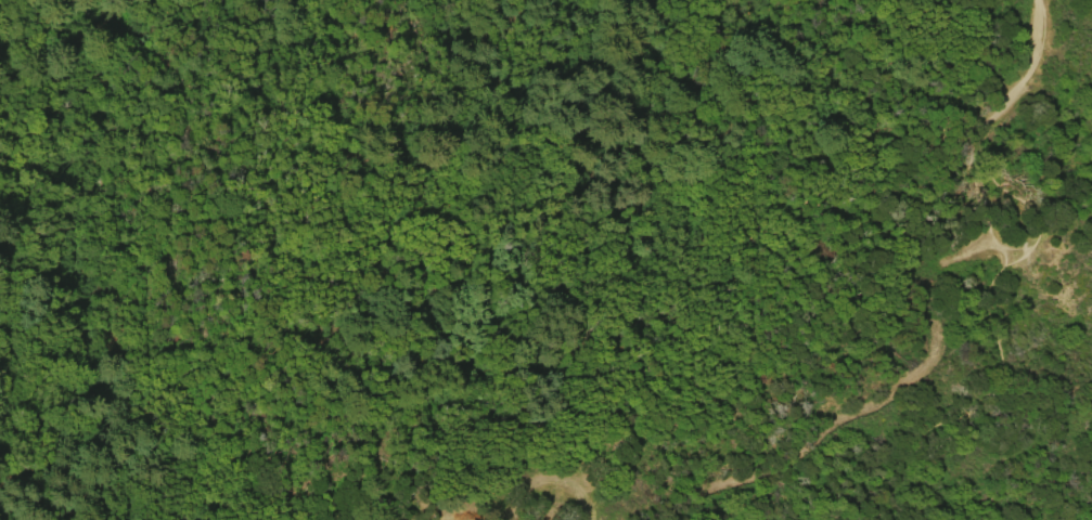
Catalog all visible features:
road: (1027, 71)
road: (976, 207)
road: (656, 223)
road: (989, 244)
road: (1004, 248)

